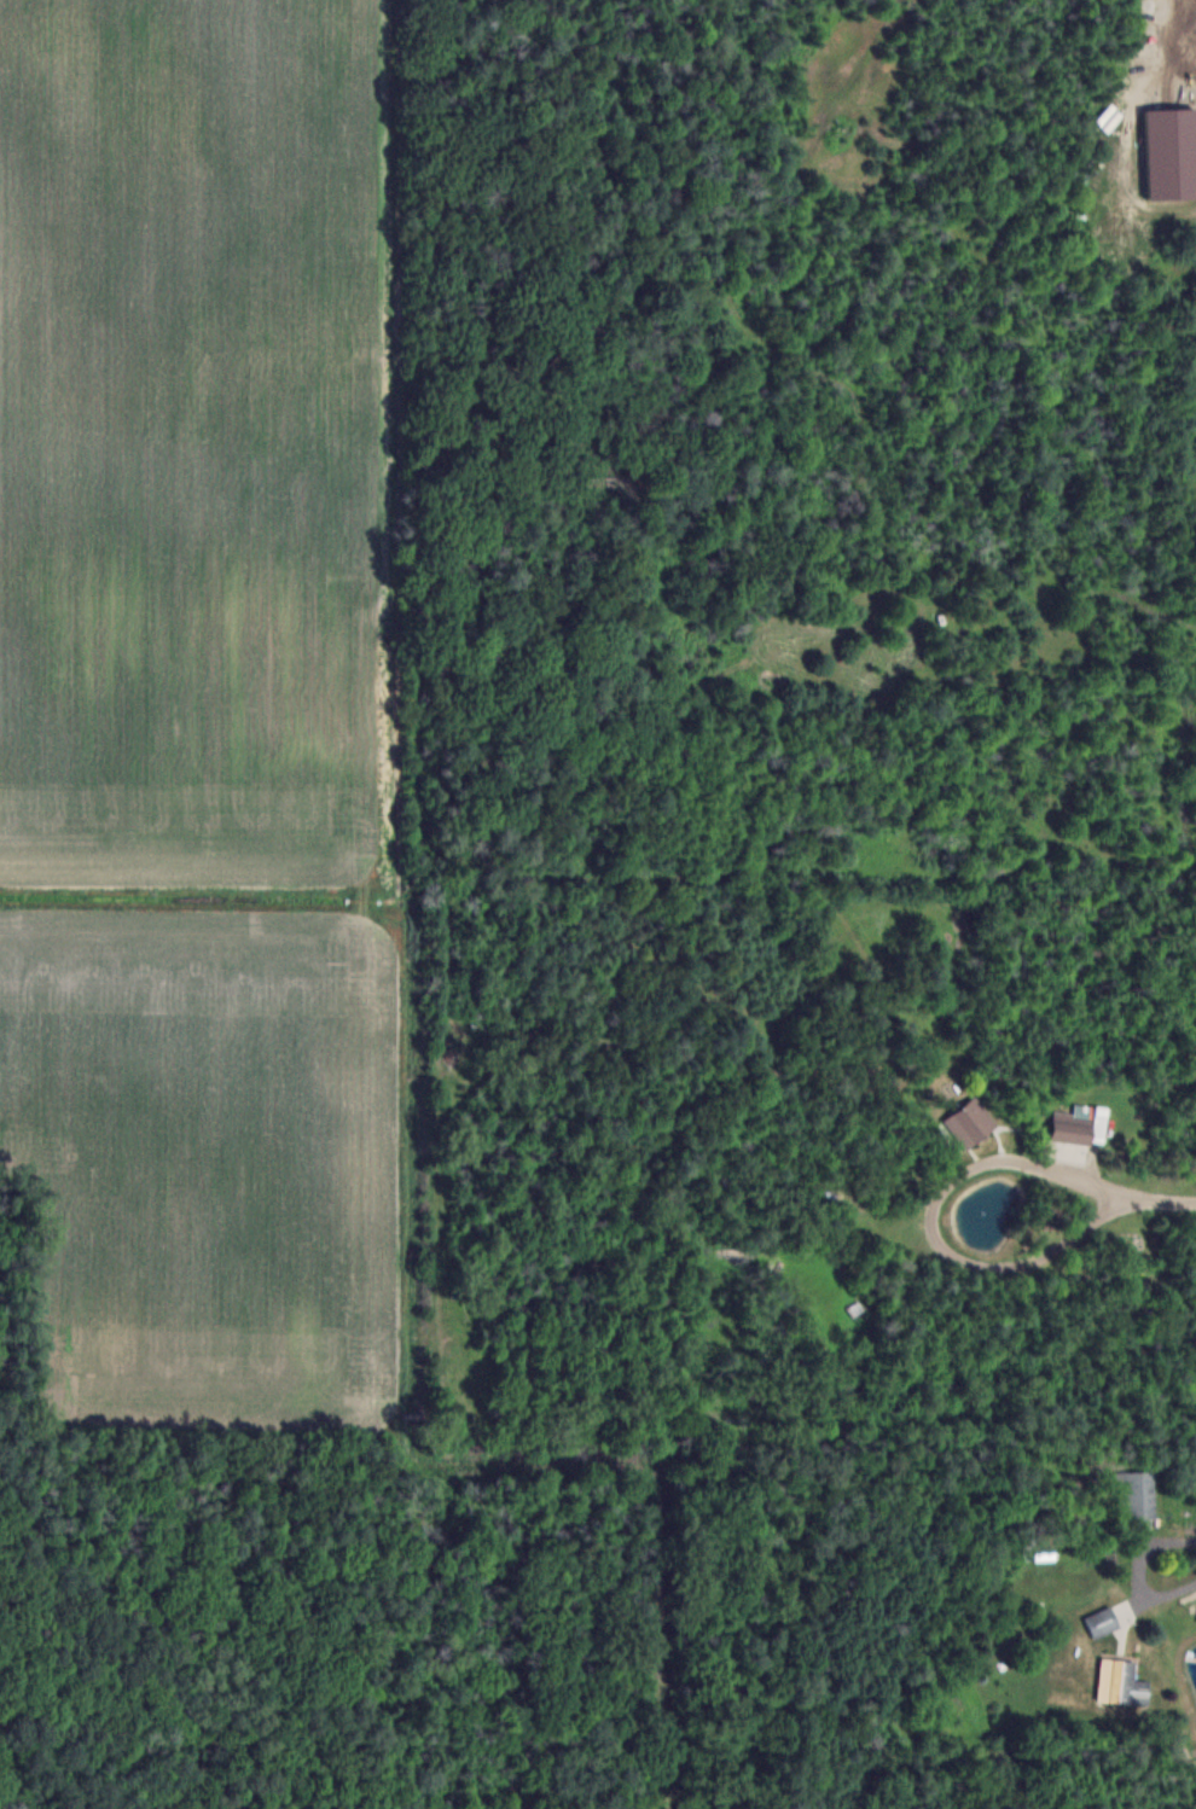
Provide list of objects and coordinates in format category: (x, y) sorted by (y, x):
building: (970, 1122)
building: (1080, 1125)
road: (1131, 1192)
building: (1136, 1494)
road: (1138, 1570)
building: (1102, 1621)
building: (1121, 1682)

